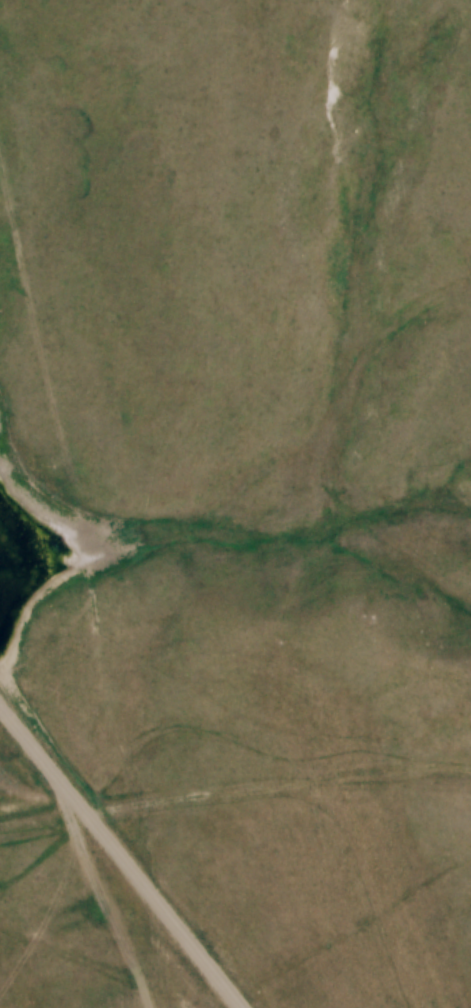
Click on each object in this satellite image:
road: (116, 858)

